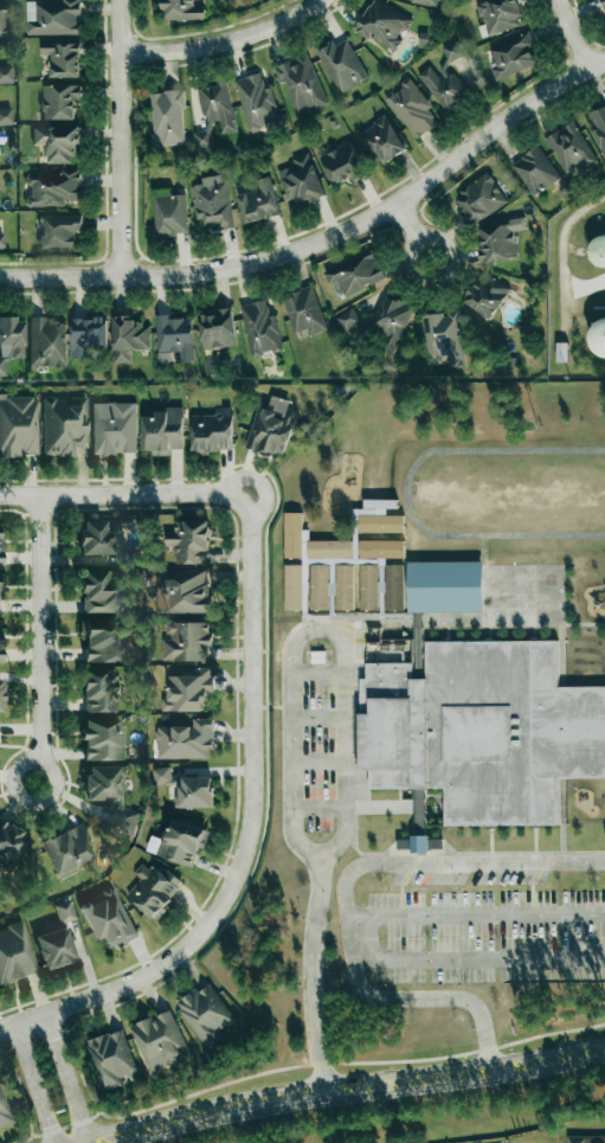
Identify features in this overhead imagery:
building: (425, 2)
building: (180, 9)
building: (500, 15)
building: (53, 18)
building: (2, 20)
building: (382, 25)
road: (572, 34)
road: (223, 40)
building: (451, 51)
building: (513, 56)
building: (63, 58)
building: (341, 64)
building: (6, 73)
building: (300, 83)
building: (444, 90)
building: (59, 101)
building: (256, 103)
building: (411, 108)
building: (214, 114)
building: (6, 116)
building: (167, 118)
building: (1, 136)
road: (118, 139)
building: (381, 141)
building: (58, 142)
building: (571, 149)
building: (342, 163)
building: (535, 171)
building: (301, 180)
building: (53, 188)
building: (480, 200)
building: (257, 201)
building: (212, 203)
building: (169, 212)
building: (59, 231)
road: (413, 231)
building: (1, 239)
road: (326, 239)
building: (500, 240)
road: (560, 248)
building: (354, 275)
building: (487, 295)
building: (304, 313)
building: (391, 321)
building: (349, 322)
building: (217, 329)
building: (260, 329)
building: (88, 335)
building: (174, 336)
building: (598, 336)
building: (128, 338)
building: (444, 339)
building: (11, 340)
building: (47, 342)
building: (64, 424)
building: (19, 425)
building: (114, 428)
building: (272, 428)
building: (162, 431)
building: (211, 432)
road: (121, 493)
building: (292, 535)
building: (97, 538)
building: (189, 541)
building: (0, 545)
building: (354, 546)
building: (380, 548)
building: (329, 550)
building: (1, 582)
building: (444, 586)
building: (292, 587)
building: (330, 587)
building: (368, 587)
building: (393, 587)
building: (102, 591)
building: (184, 593)
road: (317, 627)
building: (417, 631)
road: (41, 638)
building: (102, 640)
building: (186, 642)
building: (0, 647)
road: (318, 673)
building: (99, 689)
building: (188, 691)
building: (1, 695)
road: (318, 720)
building: (480, 736)
building: (103, 739)
building: (186, 740)
road: (318, 763)
building: (162, 776)
building: (195, 792)
building: (111, 794)
road: (318, 808)
road: (247, 834)
building: (181, 842)
building: (11, 845)
building: (419, 845)
building: (67, 849)
building: (153, 890)
road: (343, 894)
building: (65, 911)
road: (476, 913)
building: (108, 918)
building: (56, 949)
building: (15, 955)
road: (468, 959)
road: (313, 980)
building: (207, 1014)
building: (160, 1041)
building: (112, 1059)
road: (309, 1062)
road: (69, 1078)
road: (30, 1084)
road: (349, 1087)
building: (4, 1112)
building: (577, 1139)
park: (165, 1142)

